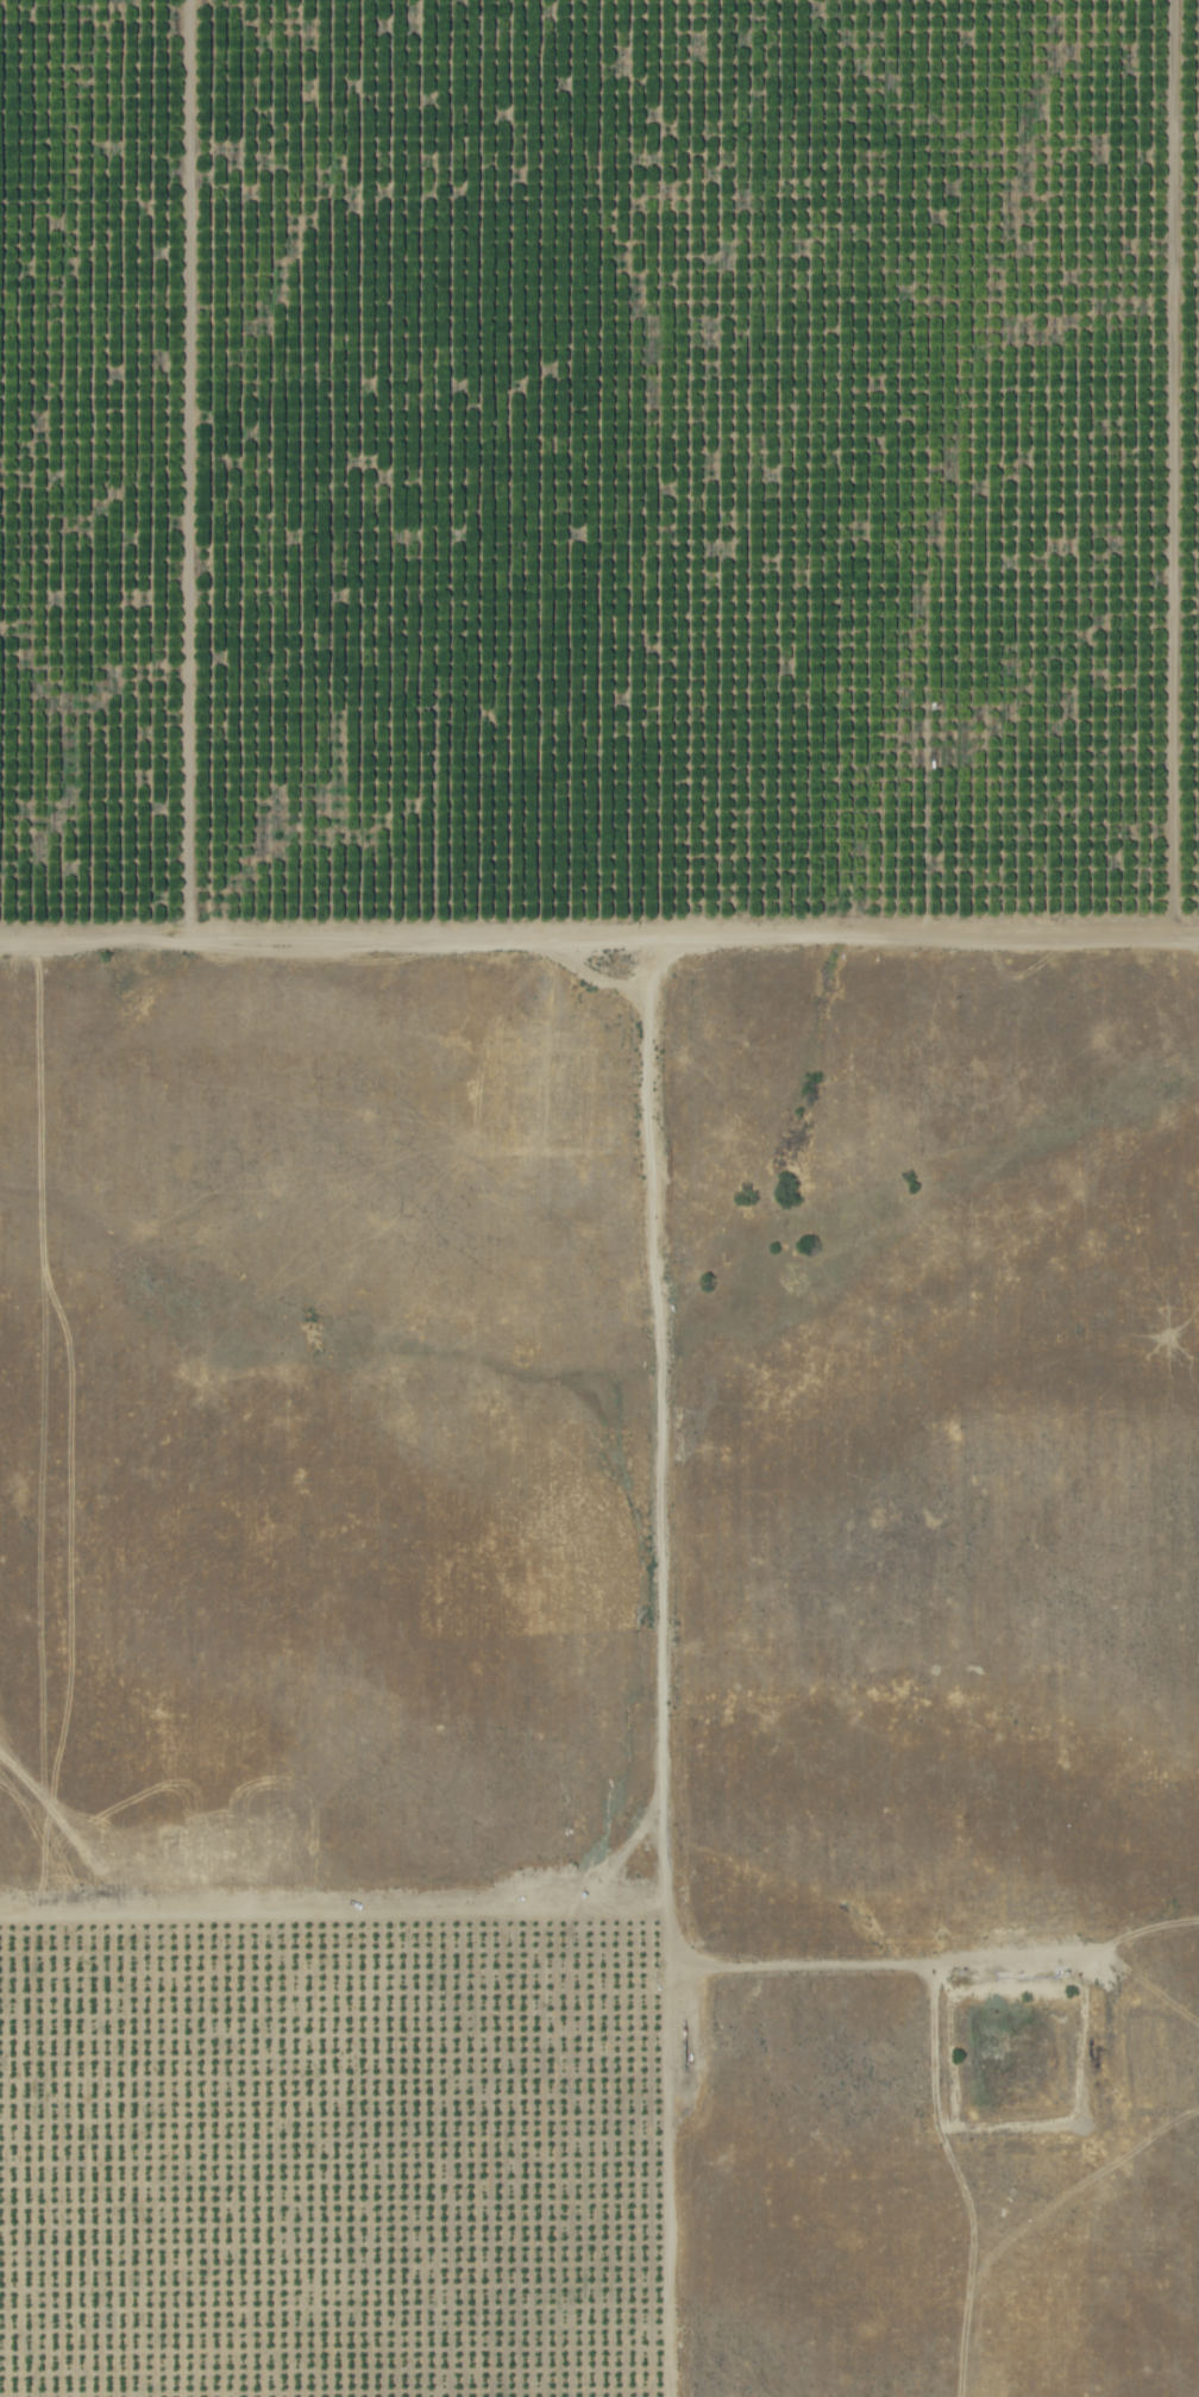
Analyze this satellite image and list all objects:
road: (860, 494)
road: (598, 983)
road: (652, 1188)

